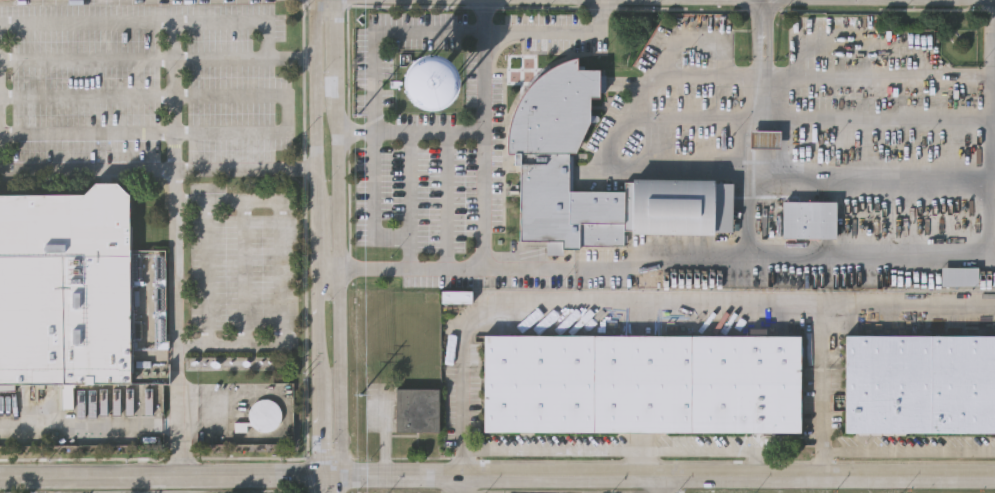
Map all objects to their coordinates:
road: (765, 18)
road: (87, 19)
road: (256, 21)
road: (397, 33)
road: (560, 34)
road: (759, 47)
road: (769, 49)
road: (224, 57)
road: (87, 58)
road: (673, 78)
road: (767, 79)
building: (431, 80)
water tower: (431, 80)
road: (892, 80)
road: (485, 81)
parking lot: (146, 83)
road: (87, 96)
road: (990, 99)
road: (891, 112)
road: (286, 116)
road: (478, 128)
road: (87, 132)
building: (766, 139)
building: (543, 154)
road: (664, 165)
road: (245, 167)
road: (88, 168)
road: (848, 170)
road: (409, 183)
road: (445, 197)
road: (373, 215)
building: (808, 220)
road: (314, 239)
road: (336, 239)
road: (176, 247)
road: (665, 262)
road: (325, 267)
road: (205, 270)
road: (245, 270)
building: (958, 273)
road: (279, 274)
building: (76, 288)
building: (457, 295)
road: (650, 313)
building: (642, 382)
building: (920, 382)
road: (820, 393)
building: (418, 408)
building: (262, 413)
road: (88, 424)
road: (622, 449)
road: (639, 462)
road: (655, 476)
road: (157, 477)
road: (329, 484)
road: (460, 484)
road: (658, 484)

